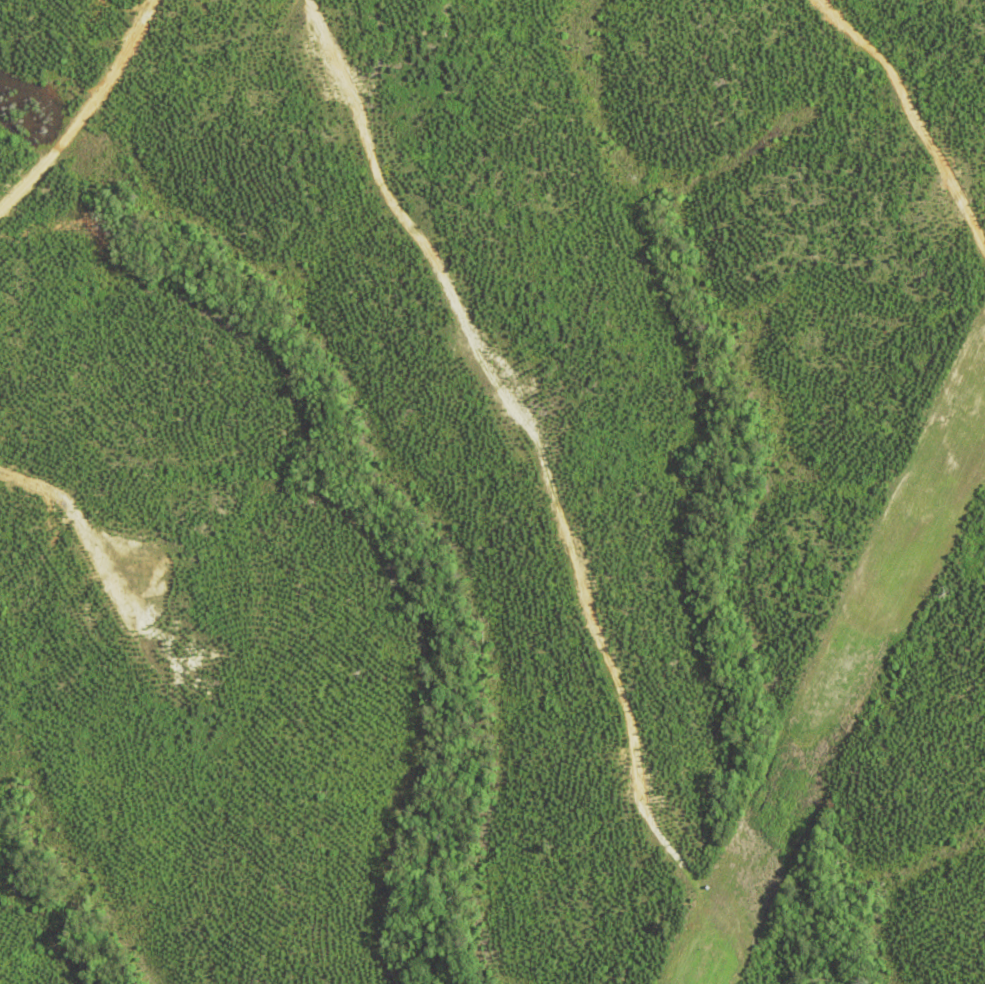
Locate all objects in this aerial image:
road: (41, 81)

